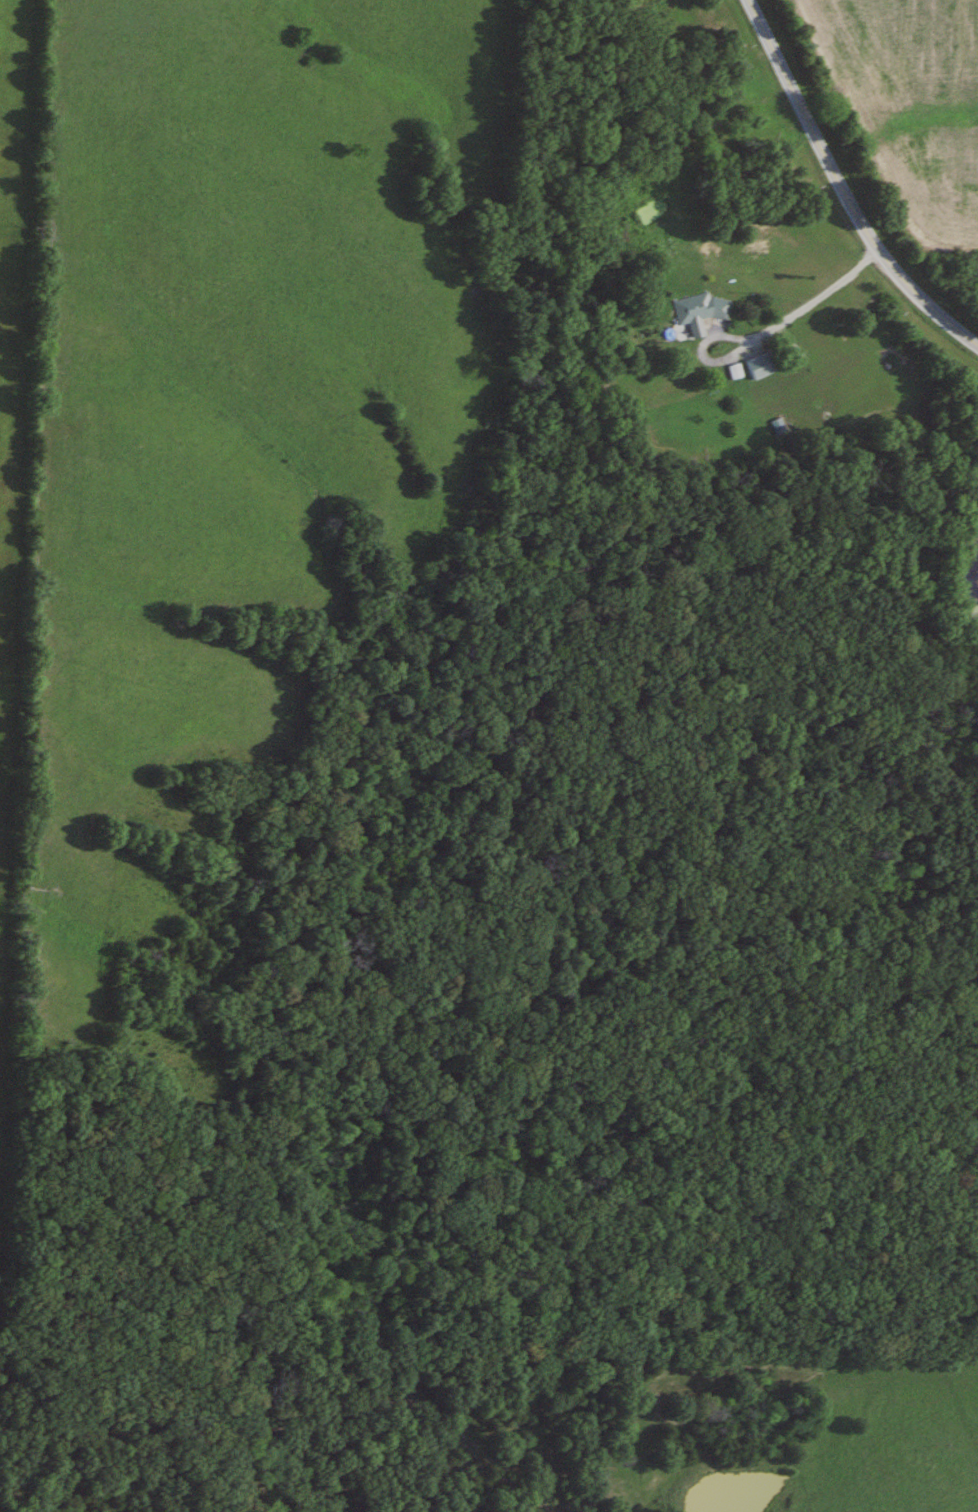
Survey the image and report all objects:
road: (839, 190)
building: (698, 313)
road: (770, 331)

